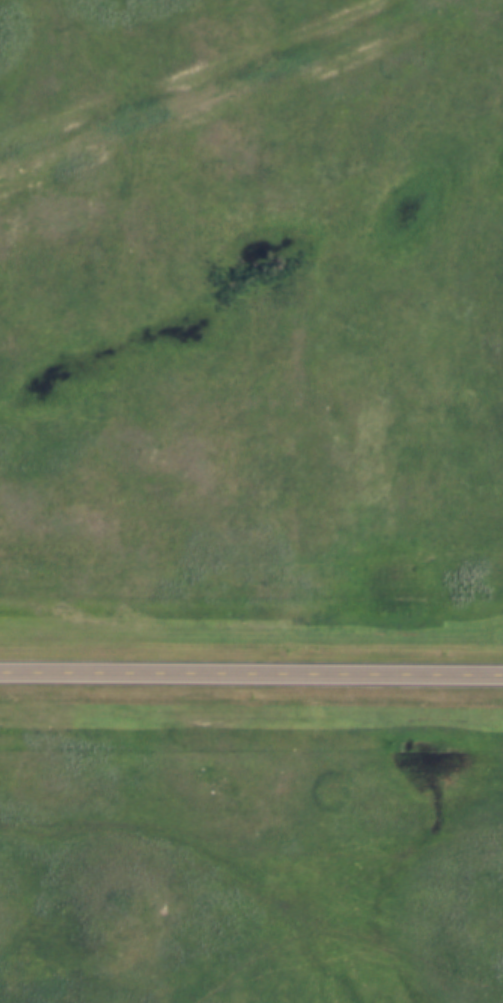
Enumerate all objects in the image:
road: (251, 673)

